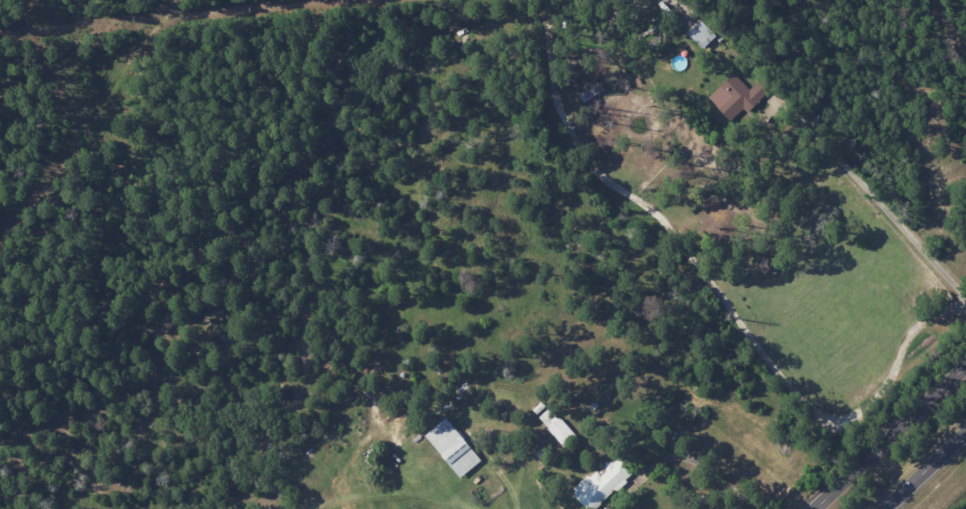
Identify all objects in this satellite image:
building: (701, 34)
building: (736, 96)
road: (874, 195)
building: (562, 432)
road: (891, 437)
building: (453, 448)
road: (669, 458)
road: (925, 470)
building: (603, 483)
road: (707, 497)
road: (745, 499)
park: (958, 501)

